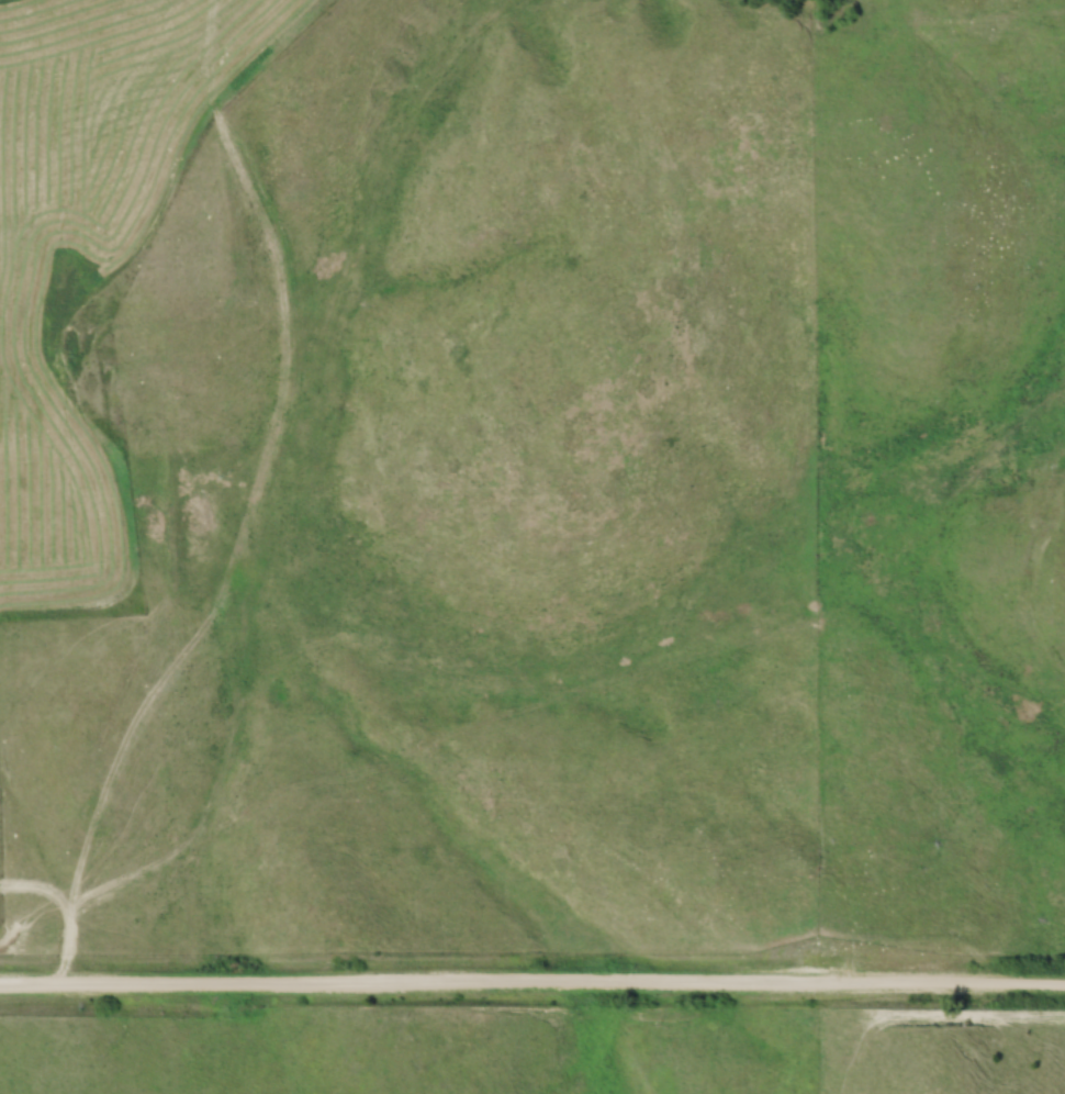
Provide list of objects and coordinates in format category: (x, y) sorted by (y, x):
road: (531, 982)

